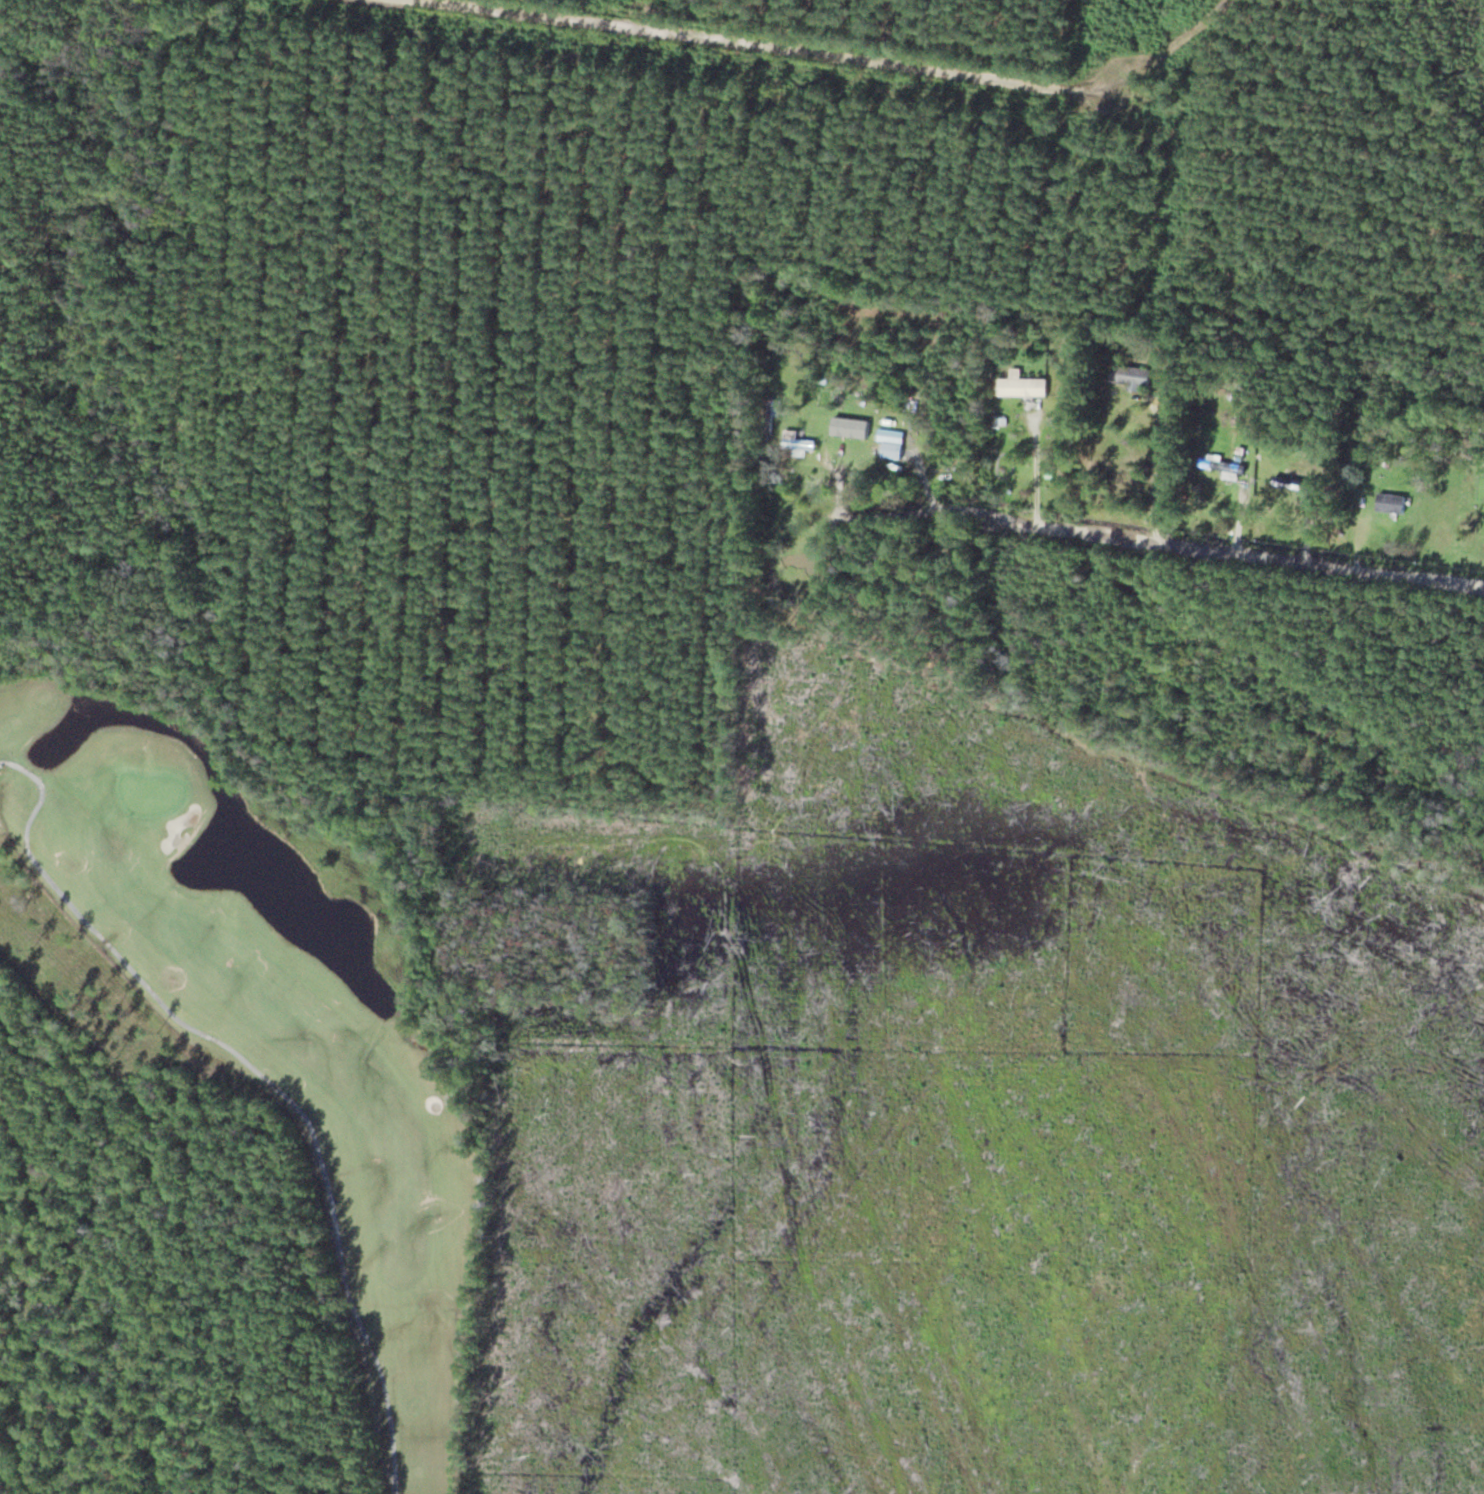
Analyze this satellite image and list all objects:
road: (752, 43)
building: (1129, 374)
building: (1022, 385)
building: (884, 433)
building: (797, 442)
building: (1222, 465)
building: (1389, 502)
road: (1234, 556)

